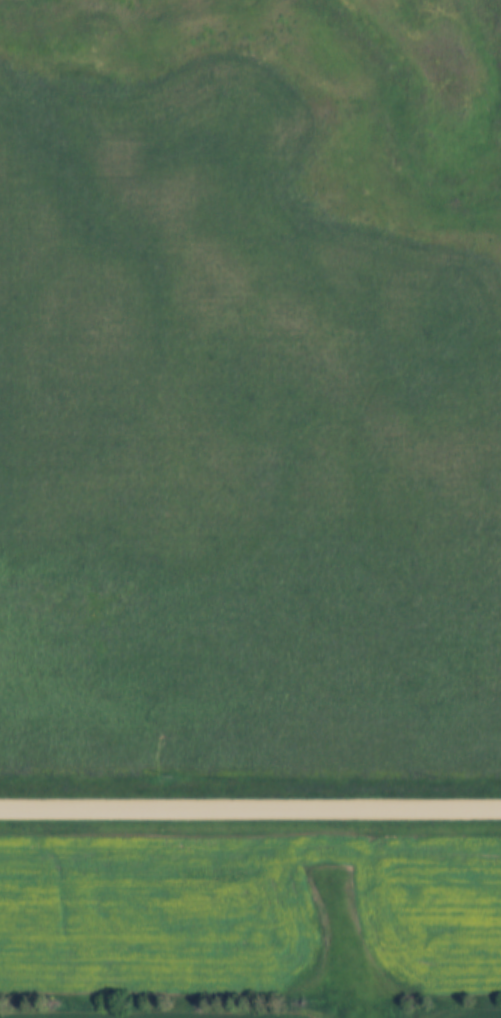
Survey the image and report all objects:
road: (250, 810)

